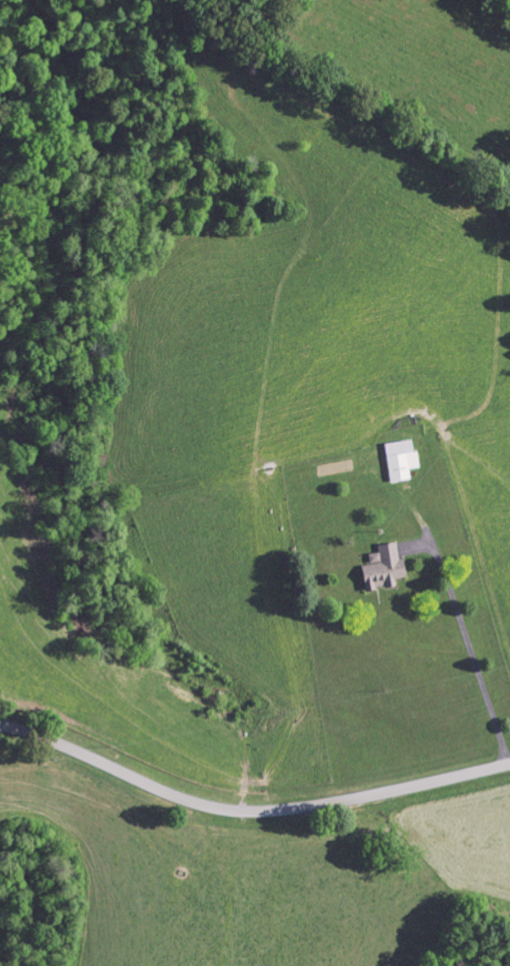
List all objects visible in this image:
building: (381, 569)
road: (249, 811)

